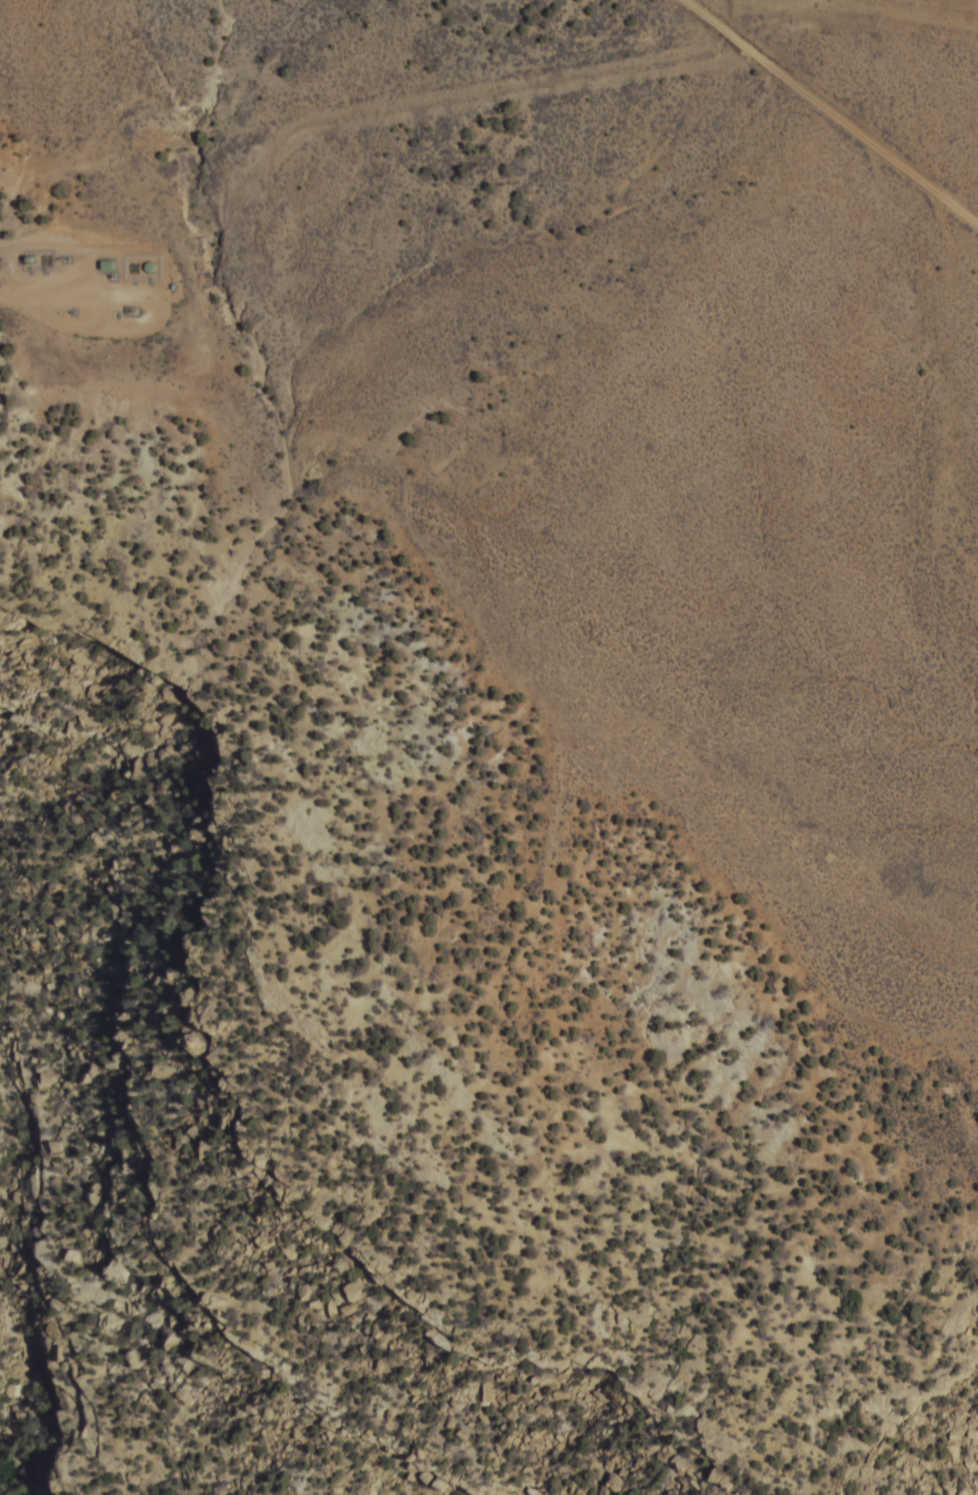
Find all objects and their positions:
road: (877, 76)

